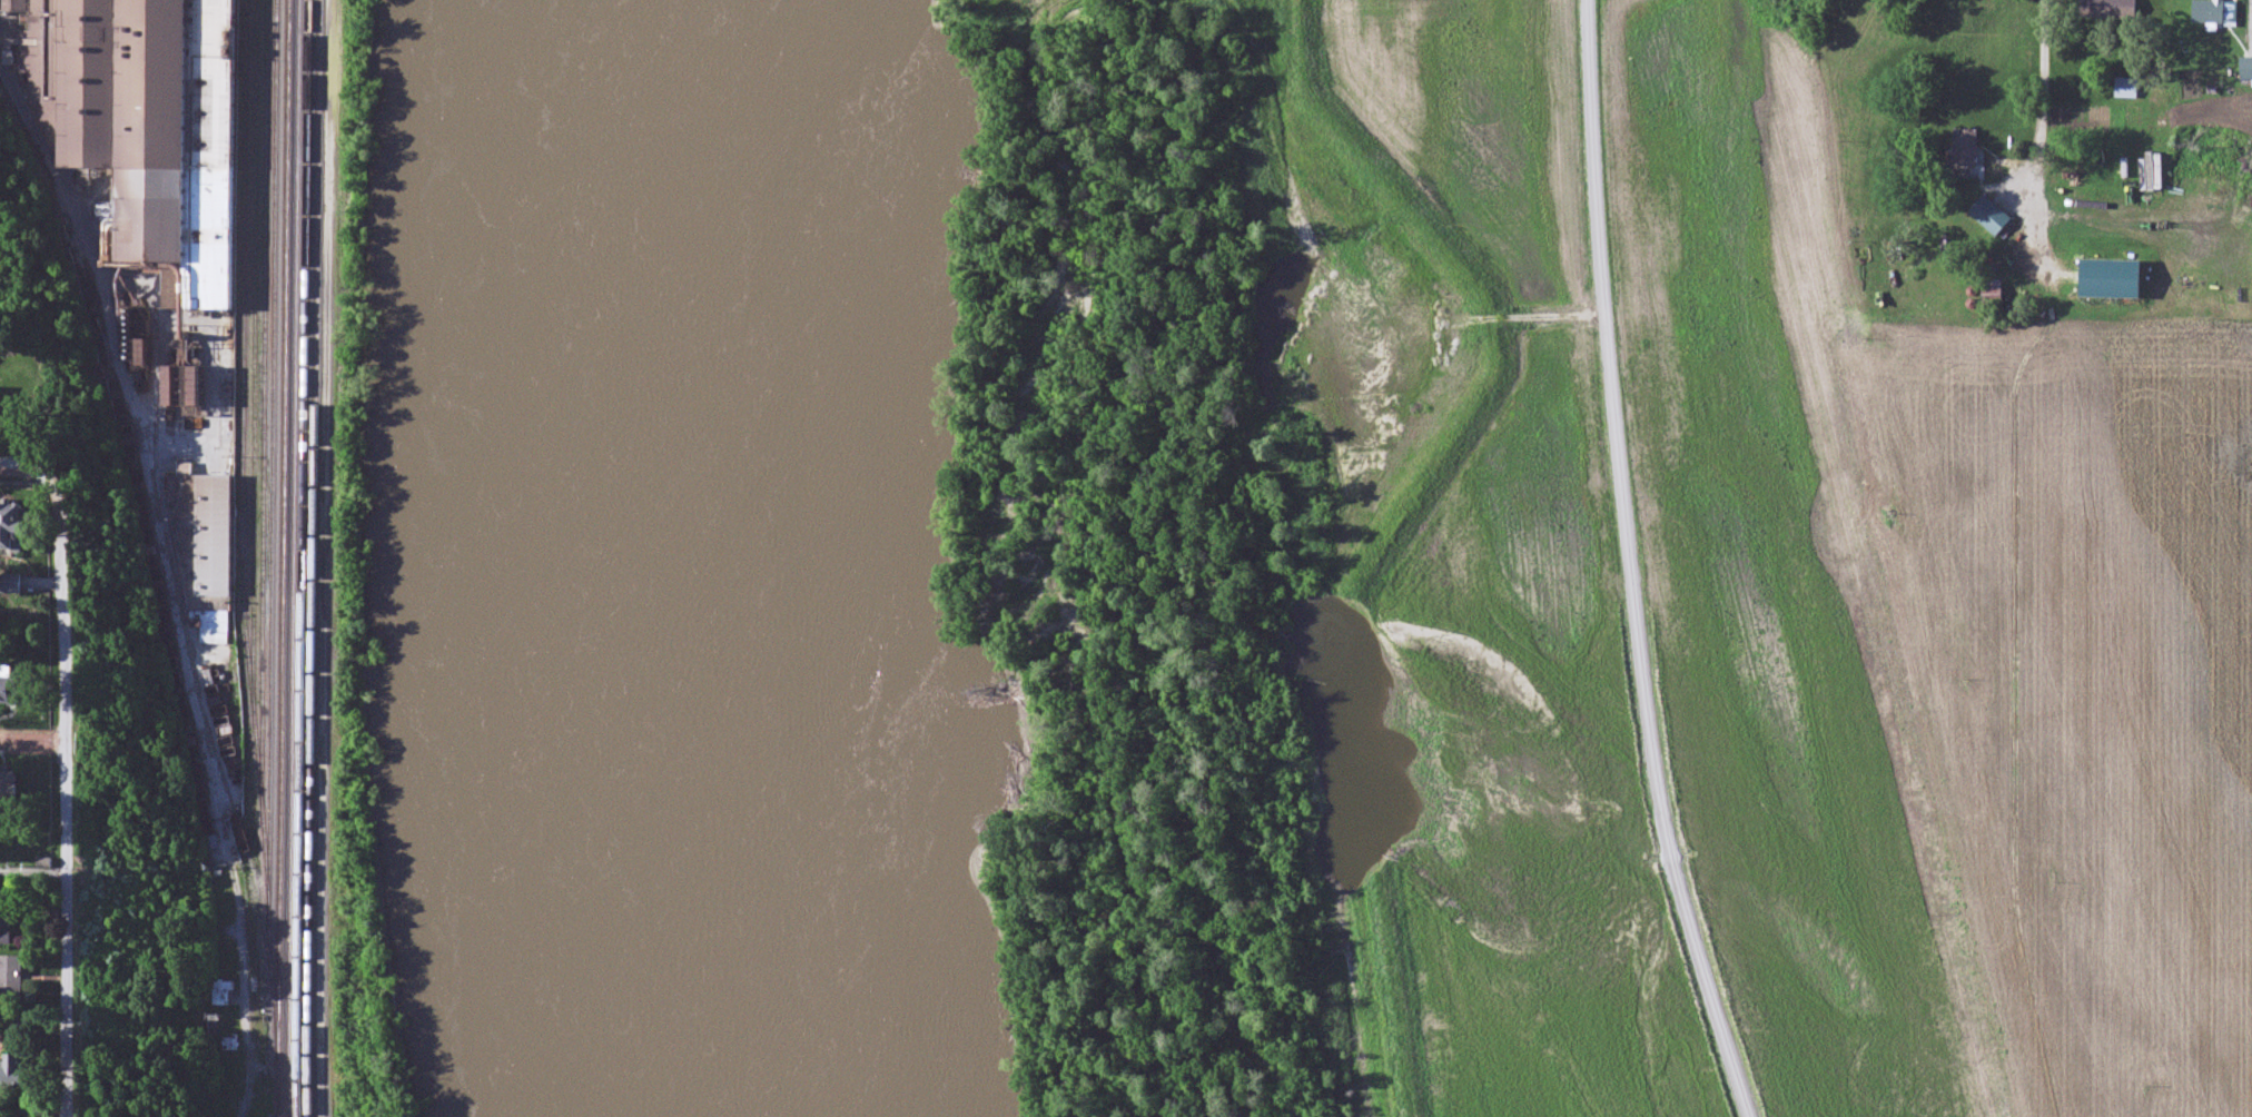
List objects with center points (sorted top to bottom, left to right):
building: (214, 1)
building: (2105, 9)
building: (2212, 13)
building: (2245, 81)
building: (2124, 90)
road: (2045, 103)
building: (140, 130)
building: (1963, 149)
building: (1987, 217)
building: (1988, 293)
railway: (241, 359)
railway: (254, 407)
railway: (263, 452)
road: (37, 467)
building: (21, 526)
railway: (304, 532)
railway: (270, 543)
building: (204, 552)
river: (705, 557)
railway: (281, 558)
railway: (293, 558)
railway: (314, 558)
road: (1631, 564)
building: (17, 584)
railway: (179, 631)
building: (205, 680)
building: (12, 685)
road: (33, 741)
building: (11, 789)
road: (68, 800)
building: (209, 850)
road: (33, 872)
building: (7, 920)
building: (12, 980)
building: (221, 994)
road: (245, 1025)
building: (228, 1046)
building: (17, 1072)
railway: (298, 1090)

